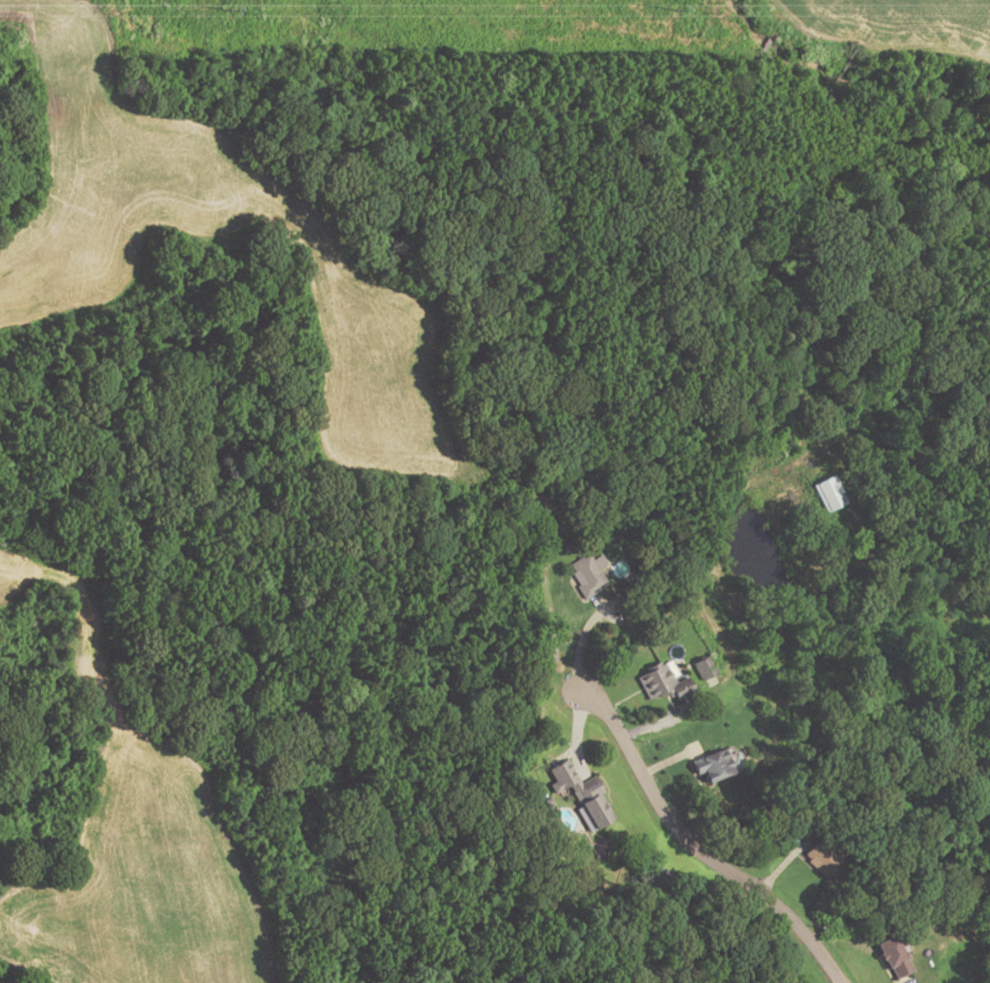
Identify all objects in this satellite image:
building: (829, 493)
road: (709, 548)
building: (586, 575)
road: (578, 645)
building: (703, 667)
building: (662, 684)
road: (620, 699)
road: (668, 714)
road: (573, 734)
road: (666, 761)
building: (715, 763)
building: (580, 791)
road: (694, 847)
building: (822, 861)
road: (779, 864)
building: (893, 957)

